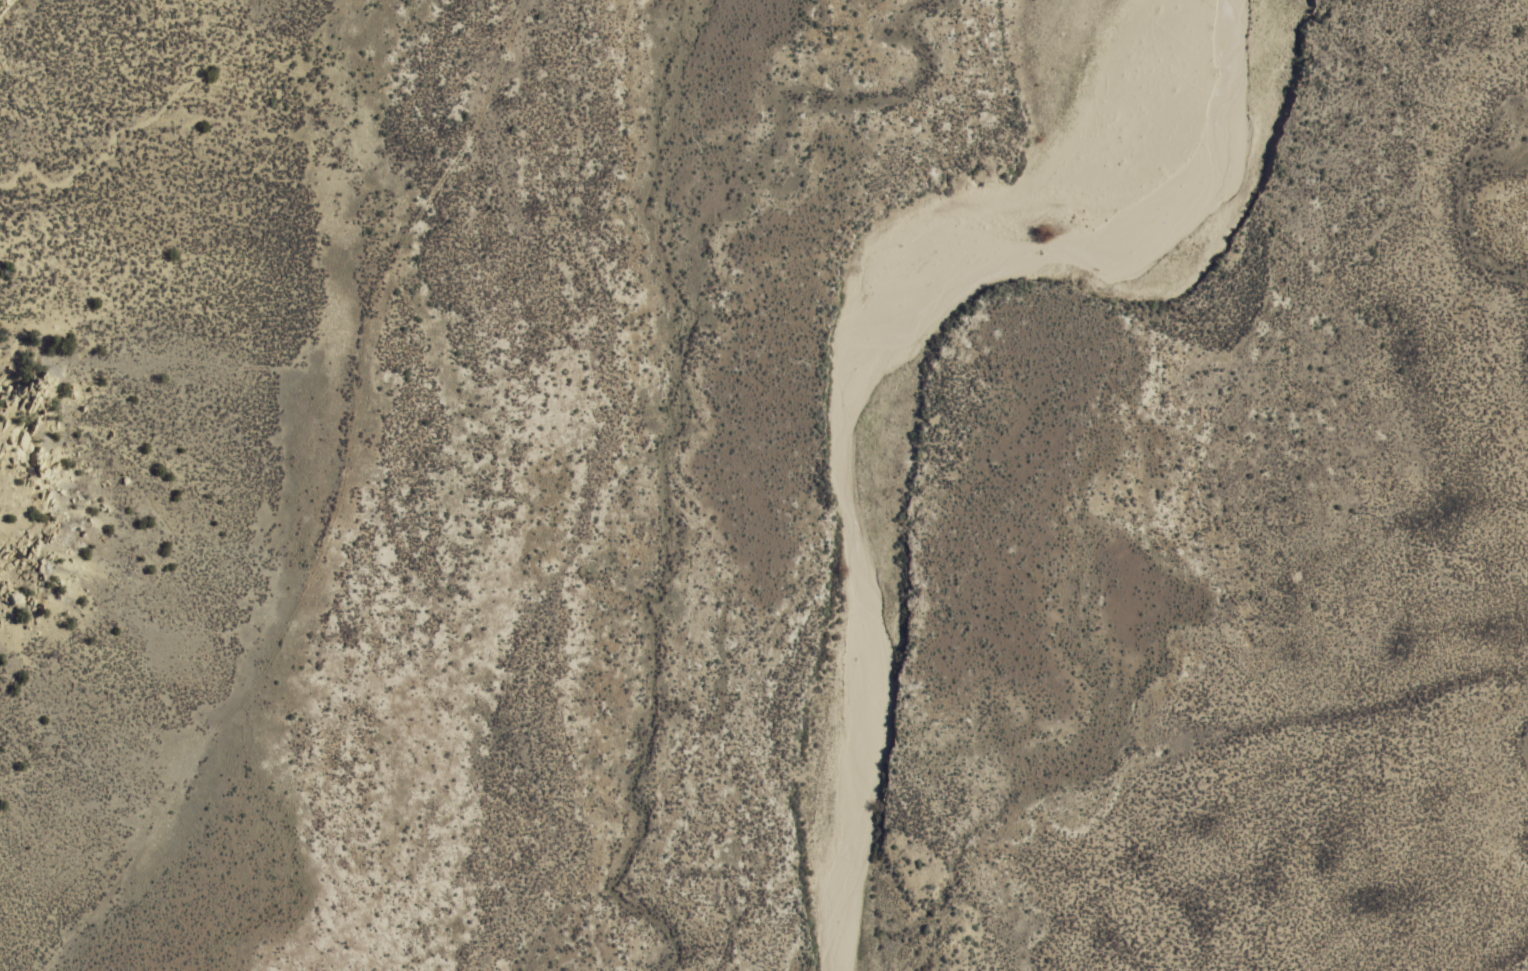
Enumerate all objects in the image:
road: (222, 489)

